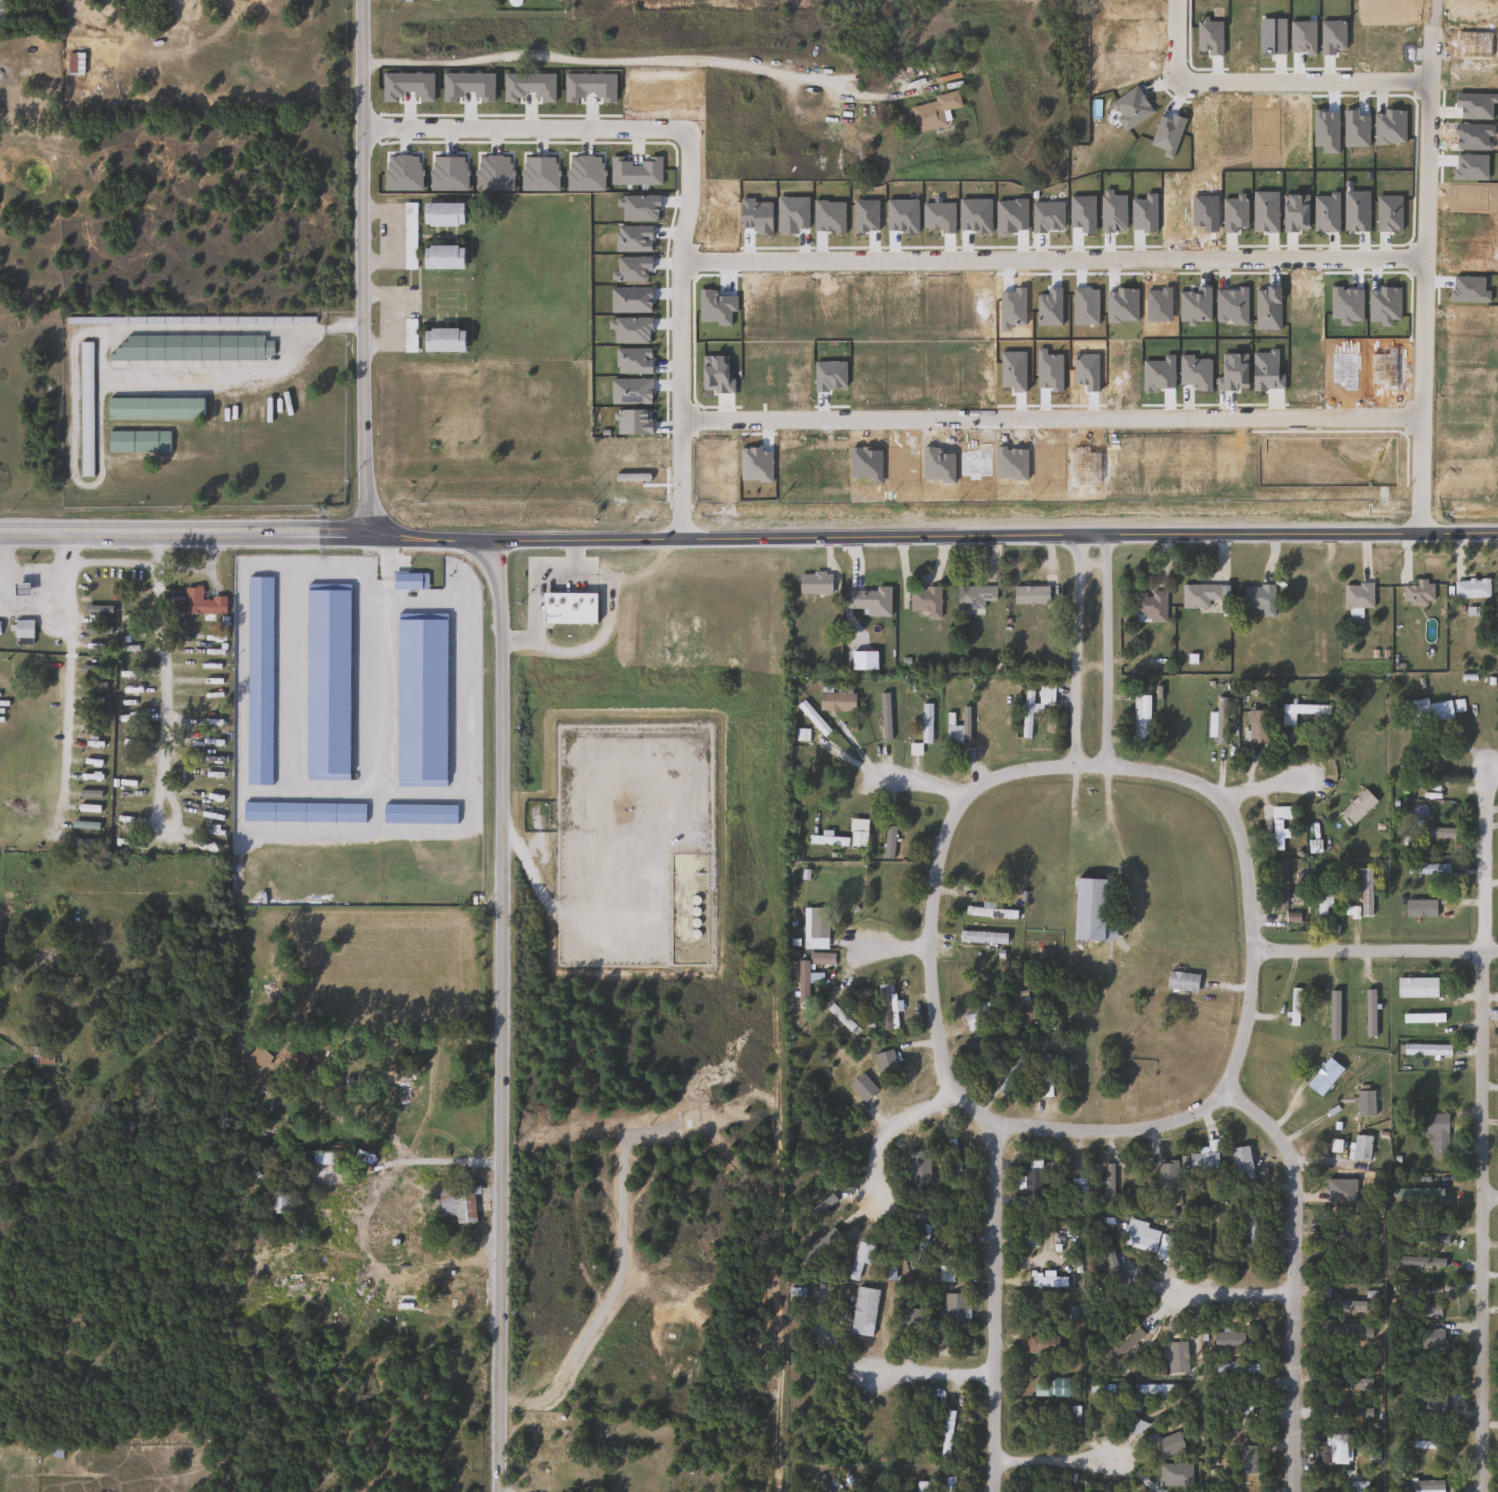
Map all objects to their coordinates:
road: (631, 62)
building: (75, 64)
road: (1258, 82)
building: (932, 111)
road: (525, 128)
building: (441, 214)
building: (409, 236)
building: (441, 256)
road: (1050, 259)
road: (363, 268)
road: (1422, 276)
road: (324, 326)
road: (677, 333)
building: (408, 335)
building: (442, 340)
building: (191, 348)
building: (153, 408)
building: (84, 409)
road: (1048, 418)
building: (138, 441)
road: (748, 539)
road: (2, 550)
road: (110, 562)
building: (813, 583)
building: (1470, 588)
road: (533, 592)
building: (1416, 592)
building: (1029, 595)
building: (1357, 595)
building: (1202, 596)
building: (1258, 598)
building: (972, 599)
building: (869, 600)
road: (19, 601)
building: (200, 603)
building: (924, 603)
building: (1149, 607)
building: (567, 608)
building: (396, 624)
building: (22, 629)
road: (159, 645)
road: (1079, 651)
road: (1109, 651)
road: (64, 669)
building: (1045, 694)
building: (836, 702)
building: (1428, 711)
building: (1298, 712)
building: (1025, 714)
building: (1140, 718)
building: (813, 719)
building: (1219, 721)
building: (925, 723)
building: (1256, 727)
building: (955, 733)
road: (891, 770)
road: (1263, 785)
building: (1357, 806)
building: (1275, 826)
road: (947, 828)
building: (1431, 830)
building: (857, 839)
building: (826, 840)
building: (888, 842)
building: (1426, 870)
building: (1279, 887)
building: (1365, 892)
building: (886, 894)
building: (1322, 896)
road: (232, 907)
building: (1089, 910)
building: (992, 912)
building: (814, 927)
building: (982, 937)
road: (881, 947)
road: (1374, 950)
building: (1181, 981)
building: (1416, 987)
building: (886, 1006)
building: (1293, 1011)
road: (501, 1016)
building: (840, 1017)
building: (976, 1019)
building: (992, 1043)
building: (1426, 1050)
building: (41, 1055)
building: (295, 1061)
road: (1235, 1067)
building: (1010, 1074)
building: (1045, 1075)
building: (1323, 1076)
building: (406, 1077)
building: (1364, 1103)
road: (894, 1122)
road: (1483, 1129)
building: (1435, 1133)
building: (1360, 1147)
building: (951, 1154)
building: (322, 1158)
building: (1204, 1158)
road: (435, 1161)
building: (1241, 1167)
building: (1032, 1182)
building: (1108, 1188)
road: (1490, 1192)
building: (278, 1202)
building: (457, 1203)
building: (1139, 1235)
building: (1252, 1235)
building: (1209, 1237)
building: (859, 1257)
building: (1431, 1257)
road: (1295, 1276)
road: (1231, 1289)
building: (796, 1293)
building: (404, 1302)
building: (1341, 1305)
road: (993, 1306)
building: (954, 1307)
building: (863, 1311)
building: (911, 1316)
building: (938, 1333)
building: (1227, 1339)
building: (1037, 1343)
building: (1232, 1368)
road: (933, 1370)
building: (1349, 1383)
building: (1057, 1386)
building: (1152, 1388)
building: (1106, 1389)
building: (793, 1401)
building: (876, 1426)
building: (1134, 1426)
building: (945, 1432)
building: (1426, 1444)
building: (1337, 1448)
building: (54, 1451)
road: (1052, 1456)
building: (948, 1484)
building: (1419, 1485)
building: (879, 1486)
building: (921, 1486)

